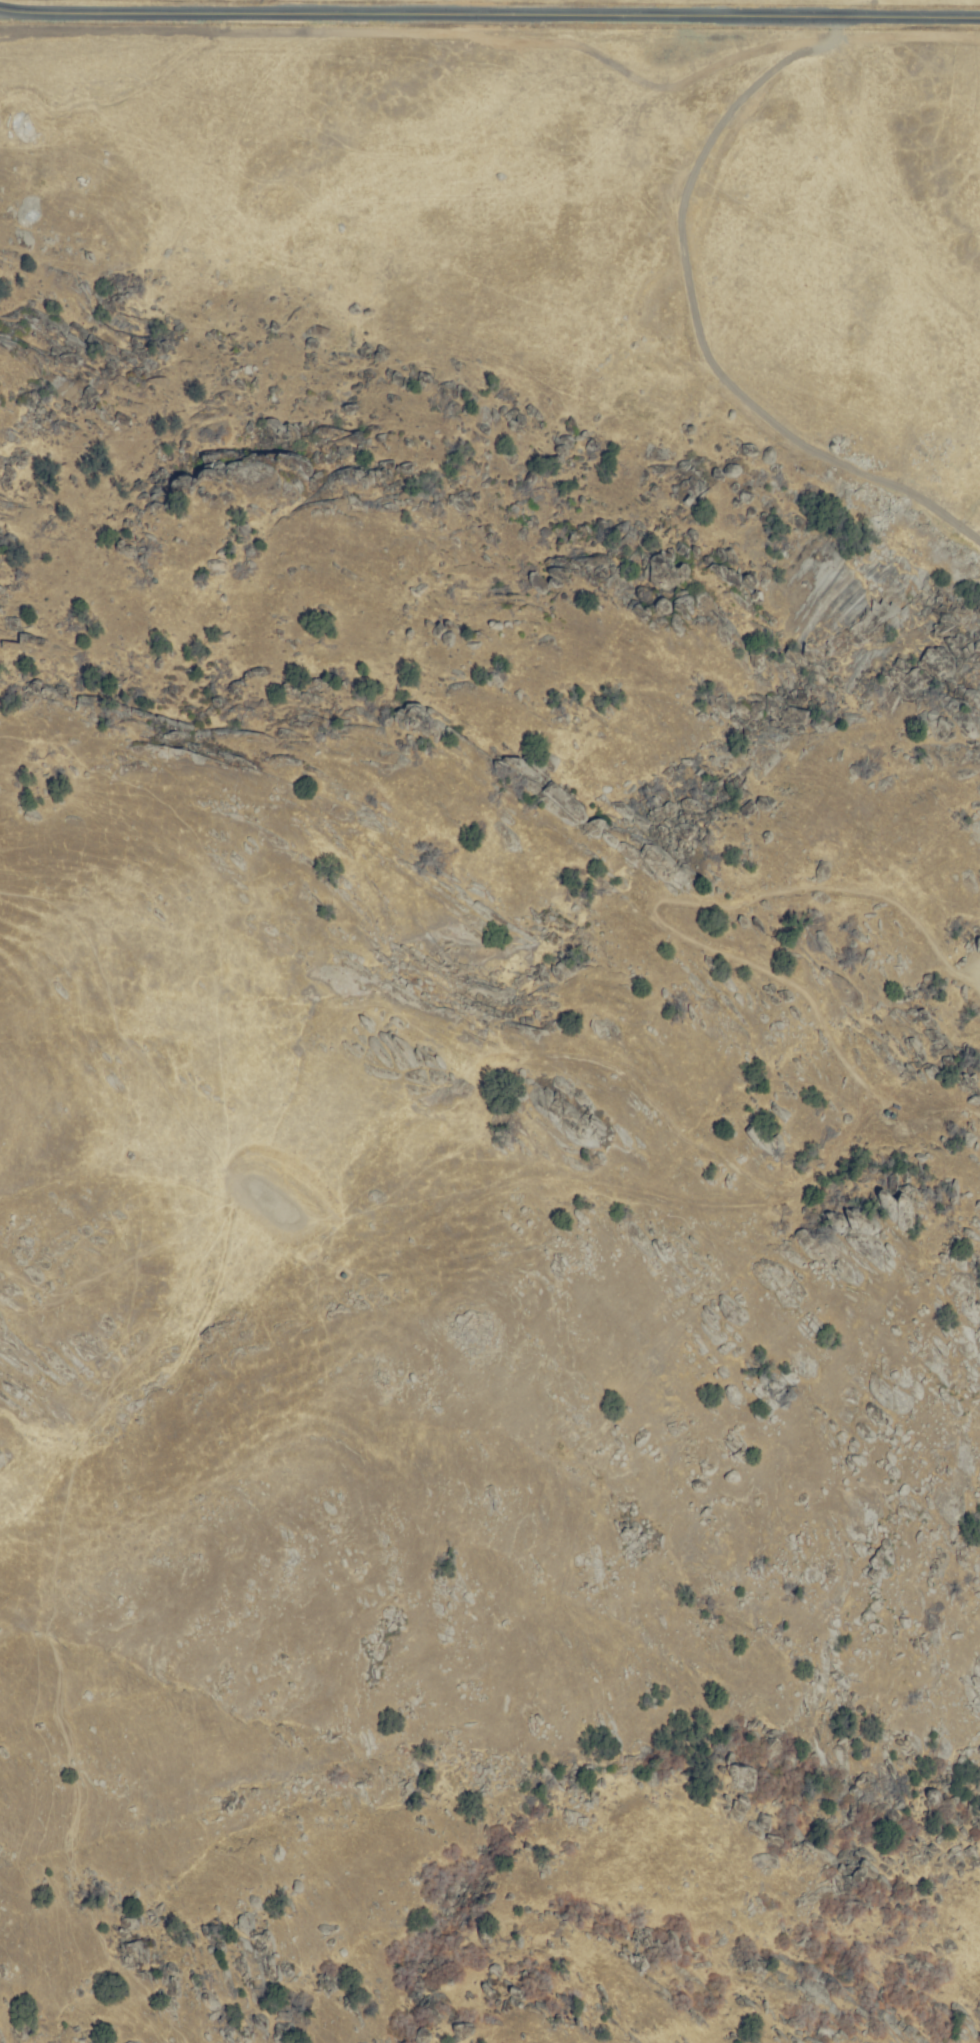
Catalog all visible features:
road: (489, 14)
crop: (638, 176)

